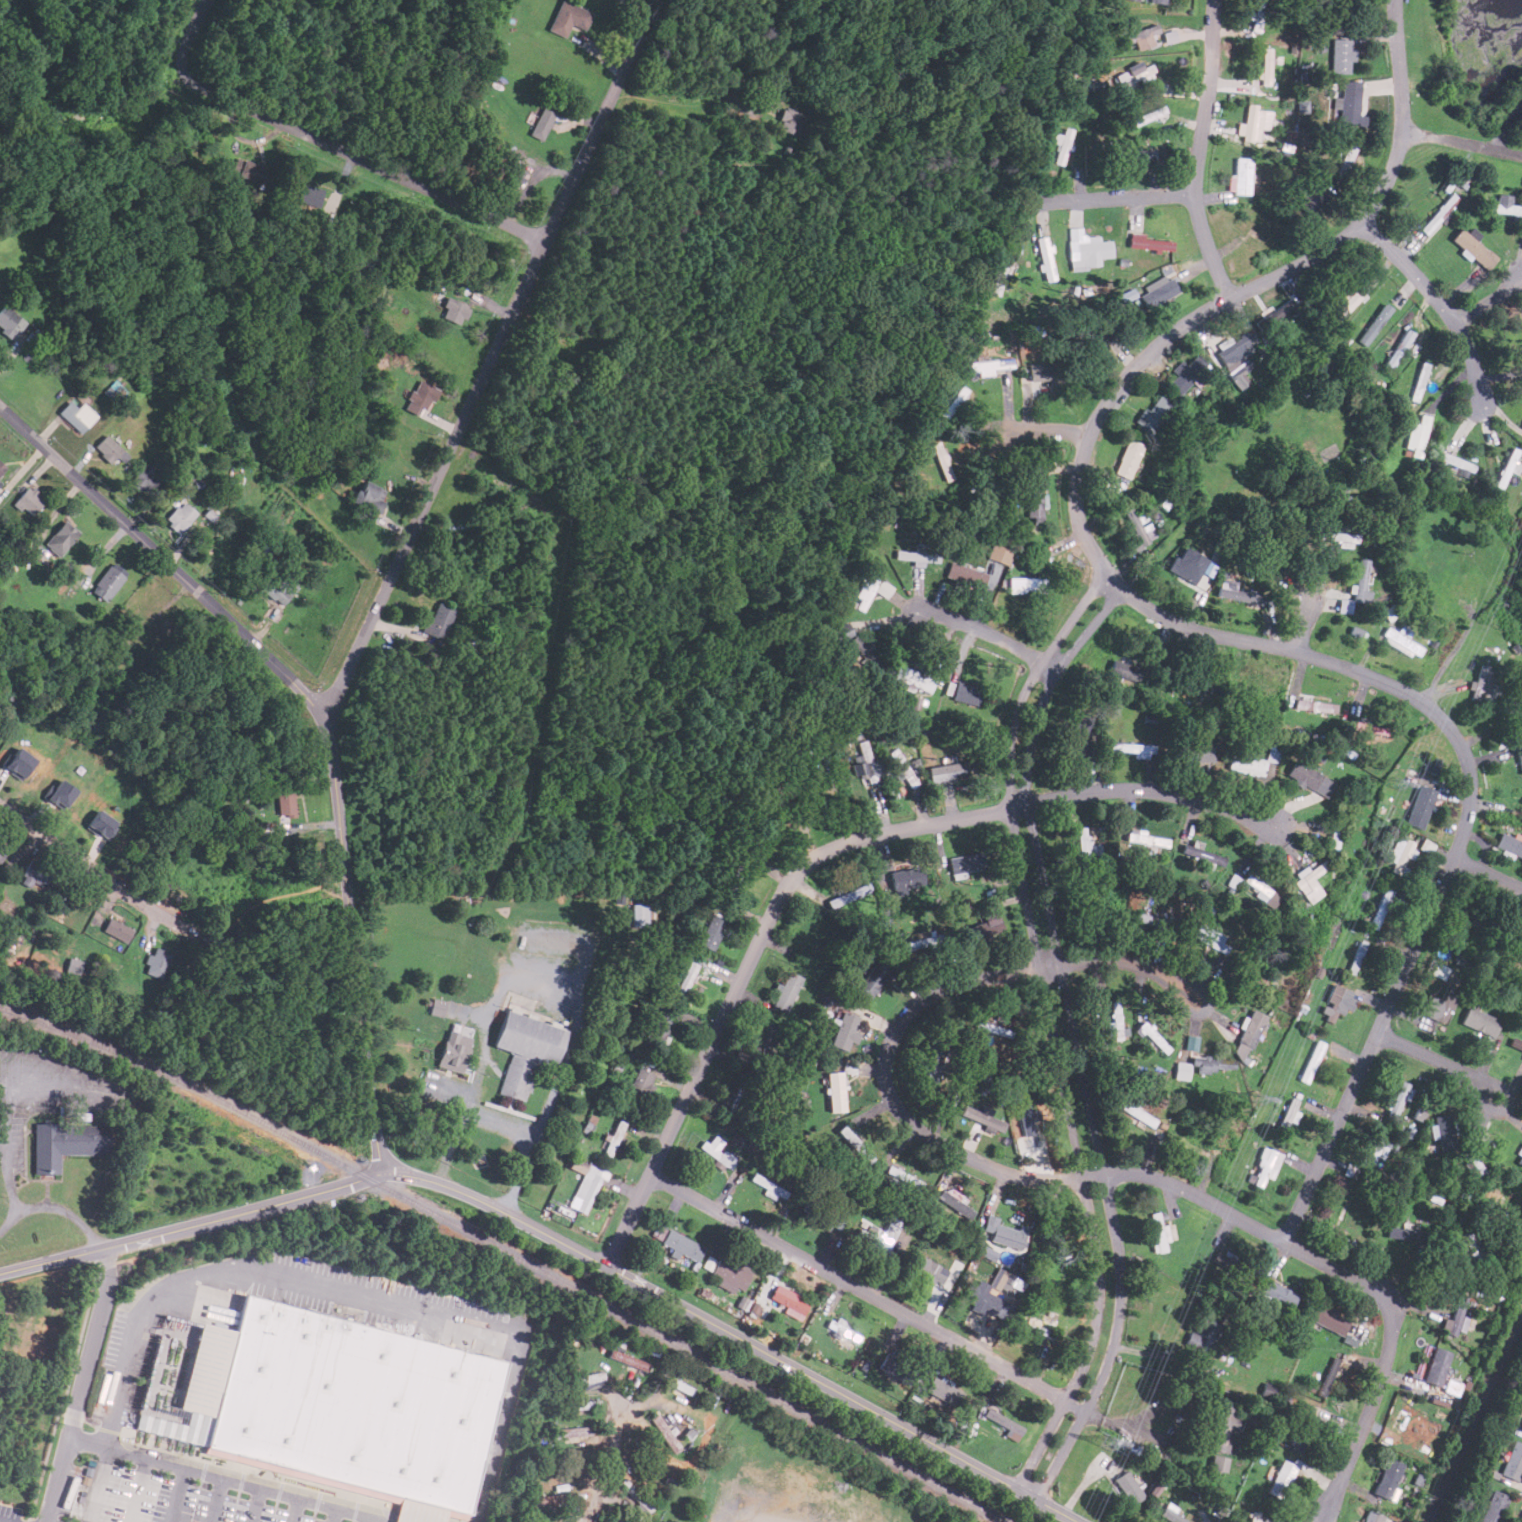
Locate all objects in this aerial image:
building: (1135, 0)
building: (1159, 1)
building: (568, 18)
building: (1139, 35)
road: (189, 36)
building: (1341, 55)
road: (598, 58)
building: (1266, 65)
building: (1134, 73)
road: (669, 96)
building: (1348, 102)
building: (1150, 115)
road: (1505, 120)
building: (789, 121)
building: (541, 123)
building: (1251, 124)
road: (1461, 143)
building: (1062, 145)
road: (1197, 152)
building: (1136, 156)
building: (1346, 158)
road: (363, 160)
building: (251, 171)
building: (514, 175)
building: (1240, 176)
building: (308, 195)
road: (1111, 198)
building: (1310, 199)
building: (1504, 205)
building: (1147, 242)
building: (1474, 248)
building: (1085, 249)
building: (1045, 258)
building: (999, 273)
building: (1157, 290)
building: (1358, 290)
road: (1489, 300)
road: (1439, 302)
building: (1283, 310)
building: (455, 312)
building: (9, 322)
building: (1375, 325)
building: (1098, 332)
building: (1402, 348)
building: (1234, 349)
building: (554, 354)
road: (490, 361)
building: (987, 366)
building: (1043, 373)
building: (1186, 374)
building: (1420, 381)
building: (117, 389)
building: (417, 398)
building: (955, 402)
building: (1152, 414)
building: (76, 416)
road: (1047, 429)
building: (1418, 436)
building: (110, 451)
building: (939, 458)
building: (1127, 459)
building: (1457, 461)
building: (1, 468)
building: (1507, 468)
building: (143, 478)
building: (368, 496)
building: (1033, 499)
building: (28, 501)
building: (180, 517)
building: (1140, 527)
building: (60, 538)
building: (1342, 538)
building: (915, 554)
building: (999, 554)
building: (1191, 566)
building: (965, 576)
building: (107, 583)
building: (1361, 583)
building: (1027, 586)
building: (274, 588)
building: (872, 591)
building: (1236, 592)
building: (1346, 605)
building: (438, 622)
road: (1303, 630)
road: (1193, 631)
building: (156, 632)
building: (842, 632)
road: (986, 632)
building: (1402, 641)
building: (864, 653)
building: (1124, 670)
building: (917, 680)
building: (1481, 681)
building: (966, 693)
building: (1315, 705)
road: (323, 724)
building: (1368, 727)
building: (1082, 739)
building: (1135, 749)
building: (1200, 753)
building: (1273, 753)
building: (1520, 757)
building: (801, 759)
building: (863, 762)
building: (19, 763)
building: (1247, 765)
building: (902, 768)
building: (946, 771)
building: (1311, 779)
power tower: (1396, 783)
building: (62, 794)
building: (286, 801)
building: (1421, 807)
building: (1520, 807)
building: (764, 817)
building: (101, 824)
building: (1147, 840)
building: (1088, 844)
building: (1510, 845)
building: (2, 849)
building: (1398, 853)
road: (820, 854)
building: (1207, 854)
building: (967, 862)
building: (35, 874)
building: (734, 874)
road: (1487, 874)
road: (101, 875)
building: (905, 878)
building: (1311, 883)
building: (1260, 890)
building: (849, 895)
building: (984, 904)
building: (1381, 909)
building: (640, 914)
building: (1152, 920)
building: (118, 930)
building: (982, 930)
building: (712, 932)
building: (809, 936)
building: (1206, 936)
building: (922, 942)
building: (1521, 956)
building: (1357, 957)
building: (157, 963)
building: (1440, 971)
building: (687, 979)
building: (872, 979)
road: (550, 984)
building: (788, 991)
building: (1333, 1002)
building: (1444, 1003)
building: (438, 1007)
building: (1116, 1022)
building: (1481, 1022)
building: (461, 1029)
building: (993, 1029)
building: (846, 1030)
building: (656, 1034)
road: (1063, 1034)
building: (1248, 1034)
building: (1153, 1037)
building: (769, 1044)
building: (1516, 1044)
building: (524, 1049)
building: (1291, 1049)
building: (453, 1050)
building: (934, 1060)
building: (1312, 1061)
road: (1439, 1062)
building: (1213, 1064)
building: (1182, 1070)
building: (639, 1085)
building: (835, 1091)
power tower: (1259, 1099)
building: (1397, 1099)
building: (1137, 1113)
building: (1290, 1115)
building: (981, 1117)
road: (498, 1123)
building: (1444, 1132)
building: (613, 1139)
building: (65, 1143)
building: (856, 1144)
building: (716, 1151)
building: (1376, 1154)
building: (1520, 1154)
building: (1474, 1165)
building: (1265, 1169)
road: (1057, 1180)
building: (584, 1185)
building: (771, 1187)
building: (957, 1203)
road: (53, 1207)
building: (1351, 1215)
building: (1006, 1233)
building: (1158, 1233)
building: (1406, 1235)
building: (878, 1236)
road: (558, 1242)
building: (681, 1245)
building: (1471, 1249)
building: (989, 1253)
railway: (507, 1254)
building: (1221, 1260)
building: (930, 1269)
building: (730, 1272)
road: (354, 1285)
road: (861, 1290)
building: (1278, 1295)
building: (981, 1298)
building: (786, 1300)
building: (1456, 1314)
building: (1327, 1318)
park: (36, 1326)
building: (1035, 1329)
building: (844, 1331)
building: (1201, 1339)
road: (91, 1342)
building: (629, 1359)
building: (891, 1363)
building: (1436, 1366)
building: (1331, 1370)
building: (593, 1379)
building: (939, 1391)
building: (332, 1397)
building: (1002, 1422)
building: (1521, 1427)
building: (1224, 1430)
building: (573, 1433)
building: (666, 1433)
building: (1304, 1434)
power tower: (1107, 1442)
building: (570, 1458)
road: (609, 1461)
building: (1513, 1462)
building: (1218, 1463)
road: (222, 1477)
building: (1387, 1478)
road: (58, 1479)
building: (1281, 1479)
road: (97, 1484)
building: (1127, 1487)
road: (138, 1489)
road: (176, 1494)
building: (635, 1496)
road: (214, 1499)
building: (546, 1500)
road: (254, 1505)
building: (1493, 1507)
road: (295, 1510)
road: (335, 1515)
building: (1172, 1515)
building: (1252, 1517)
building: (1372, 1517)
road: (373, 1521)

